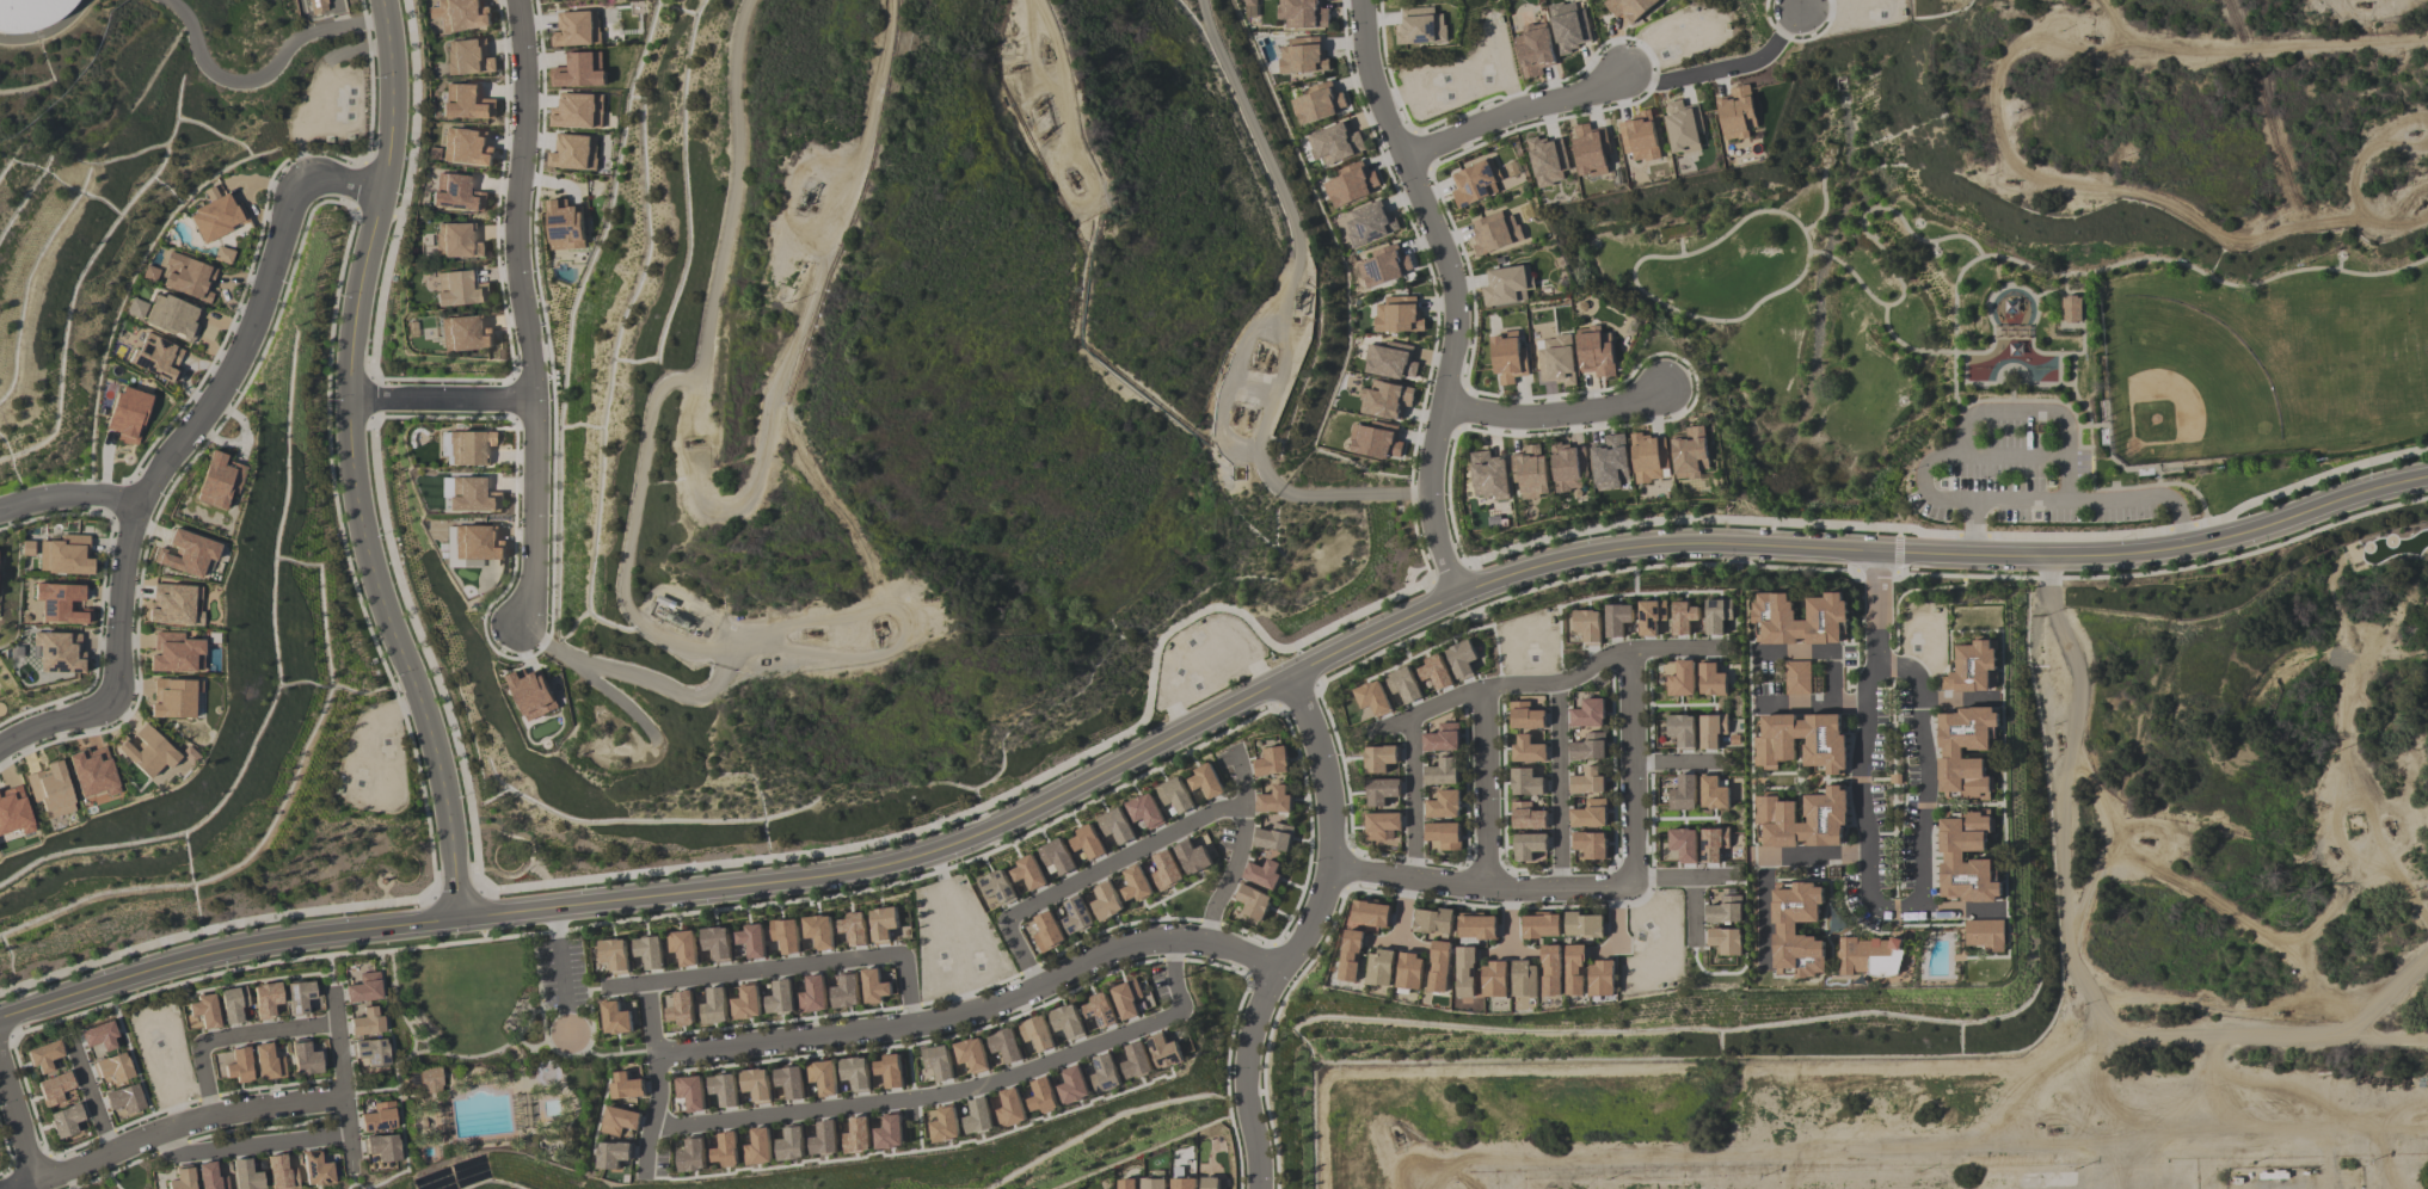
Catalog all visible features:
road: (1800, 4)
petroleum well: (2361, 4)
building: (1249, 8)
building: (1629, 8)
building: (460, 14)
building: (1304, 14)
building: (31, 16)
storage tank: (31, 16)
building: (1420, 26)
building: (1568, 26)
building: (576, 29)
petroleum well: (2089, 38)
petroleum well: (1045, 48)
building: (1533, 49)
building: (1302, 55)
building: (468, 57)
road: (262, 64)
petroleum well: (1015, 66)
building: (579, 70)
road: (1726, 70)
petroleum well: (1039, 100)
building: (466, 103)
building: (1320, 103)
building: (578, 111)
road: (1517, 111)
building: (1737, 113)
building: (1683, 127)
petroleum well: (1047, 128)
petroleum well: (2410, 134)
building: (1639, 136)
building: (1336, 143)
building: (466, 147)
building: (1590, 149)
building: (573, 152)
building: (1548, 161)
petroleum well: (1072, 177)
petroleum well: (2010, 180)
building: (1475, 183)
building: (1351, 184)
building: (456, 192)
petroleum well: (803, 193)
road: (1824, 202)
petroleum well: (2418, 204)
building: (216, 217)
building: (1367, 223)
petroleum well: (2269, 223)
building: (565, 226)
building: (1494, 232)
building: (457, 240)
road: (1874, 242)
road: (1680, 245)
road: (1932, 245)
building: (222, 254)
road: (2119, 261)
road: (2338, 264)
building: (1383, 266)
building: (188, 277)
road: (2065, 282)
building: (1507, 285)
road: (2023, 285)
building: (459, 289)
road: (1452, 294)
petroleum well: (1297, 296)
building: (2012, 307)
building: (136, 308)
building: (2070, 309)
road: (522, 312)
road: (1285, 314)
building: (1397, 314)
building: (172, 316)
road: (1742, 316)
road: (256, 319)
road: (2011, 327)
building: (465, 333)
park: (2008, 338)
building: (1594, 351)
petroleum well: (1254, 353)
building: (156, 357)
building: (1507, 357)
petroleum well: (1267, 359)
building: (1555, 359)
building: (1391, 361)
road: (2059, 369)
road: (2003, 384)
road: (442, 398)
road: (2012, 398)
building: (1387, 400)
road: (2041, 401)
road: (657, 408)
road: (2039, 412)
building: (128, 414)
petroleum well: (1234, 414)
road: (1556, 414)
petroleum well: (1246, 419)
road: (2083, 427)
petroleum well: (694, 439)
building: (1376, 441)
building: (472, 446)
building: (1690, 452)
building: (1648, 457)
building: (1609, 462)
road: (349, 464)
building: (1568, 469)
building: (1532, 472)
building: (1488, 476)
road: (2309, 480)
building: (219, 481)
building: (444, 486)
road: (2091, 488)
road: (68, 495)
building: (473, 495)
parking lot: (2028, 495)
road: (1987, 501)
road: (1709, 518)
road: (2182, 526)
road: (1973, 529)
road: (1972, 534)
road: (2078, 535)
building: (186, 553)
road: (1942, 554)
building: (64, 555)
road: (2166, 569)
road: (1875, 571)
road: (1449, 573)
road: (1576, 577)
road: (1905, 591)
building: (60, 603)
building: (174, 604)
building: (1774, 611)
building: (1717, 615)
building: (1651, 616)
building: (1683, 617)
building: (1617, 620)
building: (1586, 624)
petroleum well: (811, 632)
petroleum well: (877, 634)
building: (59, 652)
building: (176, 653)
road: (1819, 655)
building: (1462, 658)
road: (1856, 659)
road: (121, 665)
road: (1892, 665)
building: (1973, 667)
building: (1434, 672)
road: (633, 677)
building: (1796, 677)
building: (1680, 679)
building: (1710, 680)
building: (1402, 684)
road: (1549, 684)
building: (531, 694)
building: (174, 697)
building: (1372, 697)
road: (1955, 698)
road: (1648, 702)
road: (1814, 703)
road: (1845, 703)
building: (1587, 713)
road: (1879, 725)
building: (1526, 729)
building: (1682, 729)
building: (1711, 729)
building: (1442, 738)
road: (1748, 739)
building: (1588, 747)
building: (1824, 748)
building: (147, 751)
building: (1950, 753)
building: (1378, 758)
road: (1649, 760)
building: (1272, 762)
road: (1674, 763)
road: (1633, 768)
building: (92, 771)
road: (1772, 771)
building: (1442, 772)
road: (1881, 777)
road: (1832, 778)
road: (1857, 778)
road: (1796, 780)
road: (1801, 780)
building: (1587, 781)
road: (1825, 781)
building: (1204, 782)
building: (1525, 782)
road: (1557, 783)
road: (1818, 786)
road: (1772, 788)
road: (1893, 788)
road: (1485, 789)
building: (50, 790)
road: (1012, 790)
road: (1345, 790)
building: (1381, 791)
building: (1682, 793)
building: (1713, 793)
building: (1174, 795)
road: (2358, 795)
building: (1274, 800)
road: (1464, 801)
road: (1898, 802)
road: (1910, 803)
road: (1968, 803)
building: (1443, 805)
road: (1925, 805)
building: (14, 811)
building: (1144, 811)
building: (1824, 812)
building: (1588, 814)
building: (1526, 817)
road: (1651, 819)
building: (1114, 825)
building: (1381, 827)
petroleum well: (2387, 828)
road: (1410, 830)
road: (1886, 832)
building: (1443, 834)
building: (1273, 837)
road: (1900, 839)
petroleum well: (2144, 839)
building: (1087, 842)
building: (1591, 844)
building: (1683, 844)
building: (1713, 844)
building: (1528, 845)
road: (1240, 849)
petroleum well: (2332, 852)
road: (1845, 854)
building: (1951, 856)
building: (1055, 857)
road: (1760, 857)
road: (1413, 858)
road: (2005, 858)
building: (1164, 870)
building: (1027, 873)
building: (1264, 873)
road: (1089, 876)
road: (1679, 876)
road: (1651, 877)
road: (2355, 879)
building: (1135, 883)
road: (750, 885)
road: (1481, 885)
road: (1867, 885)
building: (996, 886)
road: (2086, 889)
road: (2190, 889)
road: (456, 894)
road: (1404, 894)
road: (1641, 900)
building: (1106, 901)
building: (1253, 902)
road: (1456, 902)
road: (1562, 905)
road: (1615, 905)
road: (1508, 906)
road: (1692, 908)
road: (1894, 908)
building: (1725, 910)
road: (1947, 910)
road: (1616, 914)
building: (1076, 916)
building: (1366, 916)
road: (1510, 917)
building: (1433, 920)
building: (883, 923)
road: (1895, 923)
building: (1584, 924)
building: (1541, 925)
road: (577, 926)
building: (1476, 926)
road: (213, 928)
building: (853, 928)
building: (1784, 930)
building: (818, 931)
building: (1046, 931)
road: (1296, 931)
building: (1984, 934)
building: (785, 935)
building: (751, 941)
building: (1726, 941)
building: (715, 942)
building: (682, 947)
building: (649, 951)
road: (379, 954)
building: (613, 954)
building: (1350, 955)
building: (1870, 956)
road: (328, 959)
road: (786, 966)
building: (1439, 966)
building: (1379, 967)
road: (2070, 968)
building: (1550, 969)
building: (1574, 969)
road: (560, 971)
building: (1409, 971)
building: (1465, 972)
building: (1600, 978)
building: (1494, 979)
building: (1524, 979)
road: (254, 980)
road: (331, 980)
road: (183, 985)
building: (873, 986)
building: (364, 987)
building: (844, 992)
building: (812, 994)
building: (301, 997)
building: (779, 998)
building: (1126, 998)
building: (265, 999)
building: (745, 1003)
road: (113, 1004)
building: (233, 1004)
road: (1280, 1005)
building: (711, 1006)
building: (681, 1009)
road: (973, 1011)
building: (1099, 1011)
building: (203, 1012)
petroleum well: (2280, 1012)
building: (615, 1018)
building: (1067, 1021)
building: (367, 1022)
building: (1037, 1033)
road: (230, 1035)
road: (2387, 1036)
building: (99, 1037)
building: (1004, 1045)
building: (371, 1052)
building: (1164, 1052)
building: (971, 1054)
building: (43, 1055)
building: (305, 1059)
road: (134, 1060)
building: (1136, 1060)
building: (938, 1061)
building: (268, 1062)
building: (239, 1065)
building: (113, 1068)
building: (889, 1070)
road: (343, 1072)
building: (854, 1072)
building: (1105, 1073)
building: (822, 1077)
road: (657, 1079)
building: (626, 1082)
building: (789, 1082)
road: (281, 1084)
building: (755, 1084)
building: (1074, 1086)
building: (56, 1089)
building: (723, 1089)
road: (959, 1089)
road: (371, 1090)
building: (689, 1092)
road: (90, 1093)
road: (208, 1096)
building: (1043, 1096)
building: (124, 1098)
road: (399, 1099)
road: (150, 1111)
road: (155, 1111)
building: (978, 1116)
road: (18, 1117)
building: (379, 1117)
building: (619, 1120)
building: (64, 1121)
road: (177, 1123)
building: (946, 1125)
road: (268, 1126)
petroleum well: (2053, 1129)
road: (104, 1132)
building: (890, 1133)
petroleum well: (1394, 1134)
building: (855, 1135)
building: (824, 1138)
building: (791, 1144)
road: (171, 1146)
road: (253, 1146)
building: (382, 1147)
building: (757, 1147)
building: (725, 1150)
road: (7, 1154)
building: (613, 1154)
building: (691, 1156)
road: (29, 1160)
building: (297, 1170)
road: (111, 1171)
building: (245, 1175)
building: (210, 1177)
building: (182, 1179)
road: (112, 1181)
building: (1126, 1183)
building: (1152, 1183)
building: (1182, 1183)
building: (1209, 1183)

